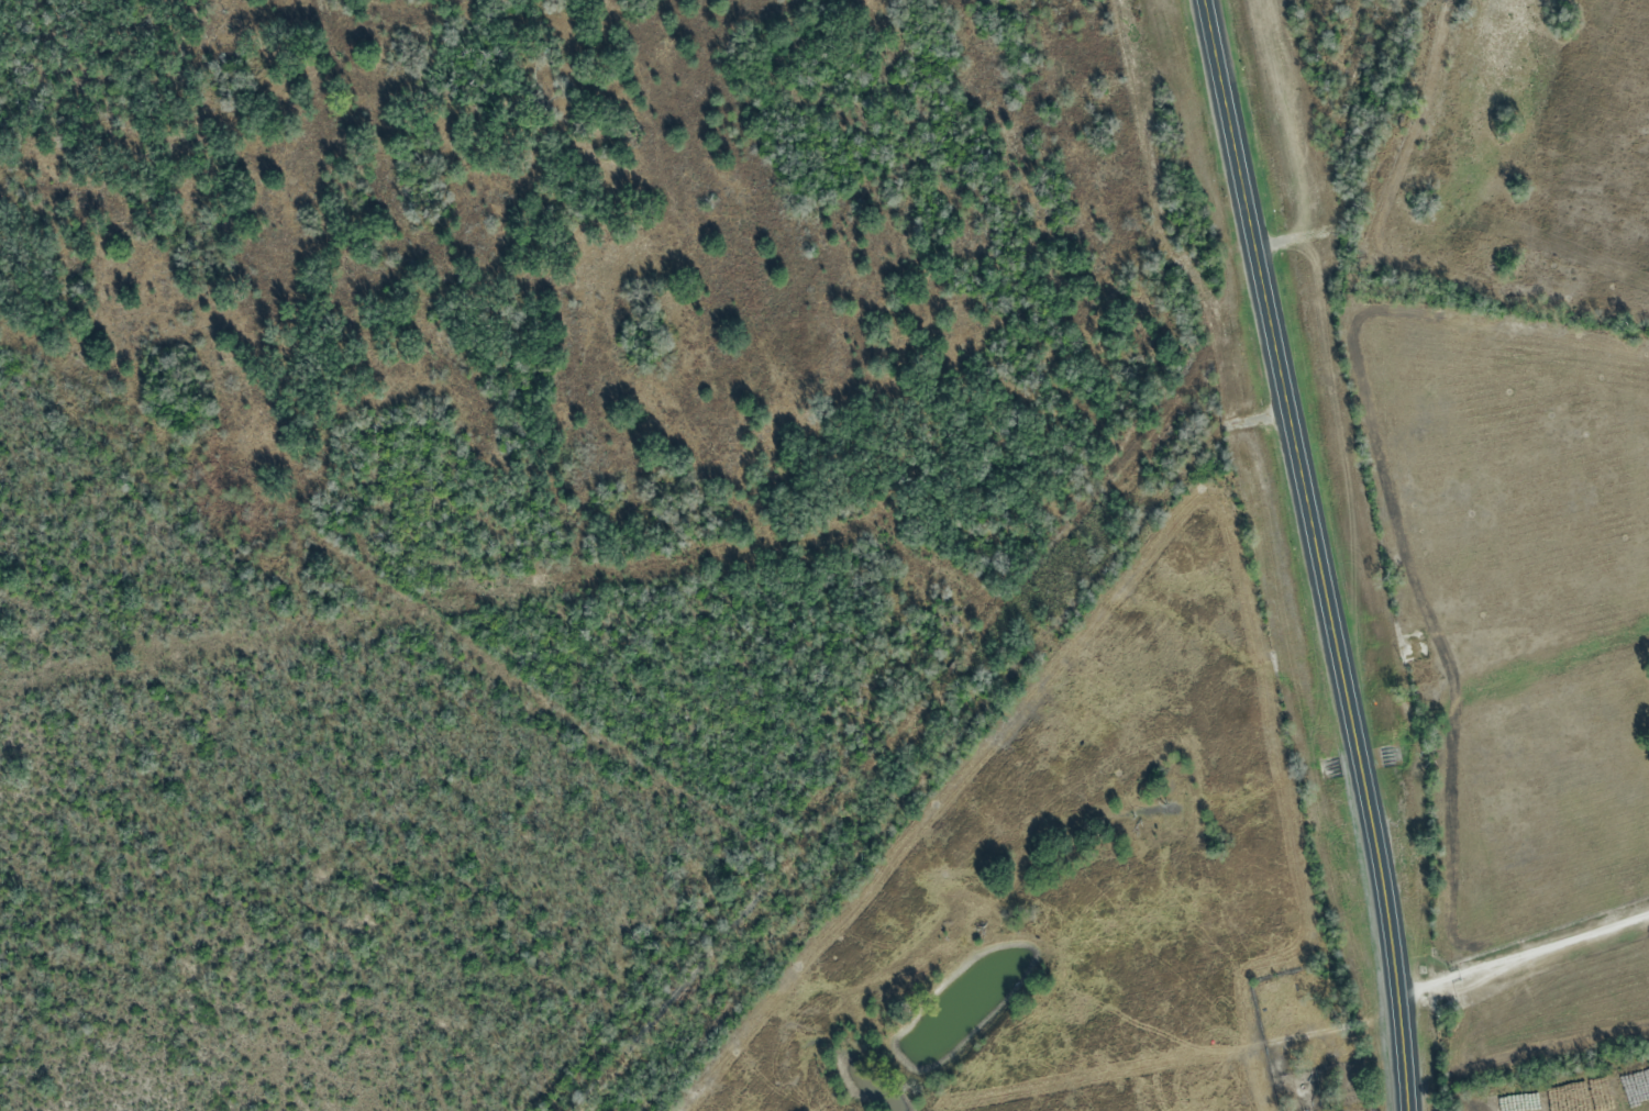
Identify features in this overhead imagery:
road: (1322, 553)
road: (962, 745)
road: (1524, 955)

